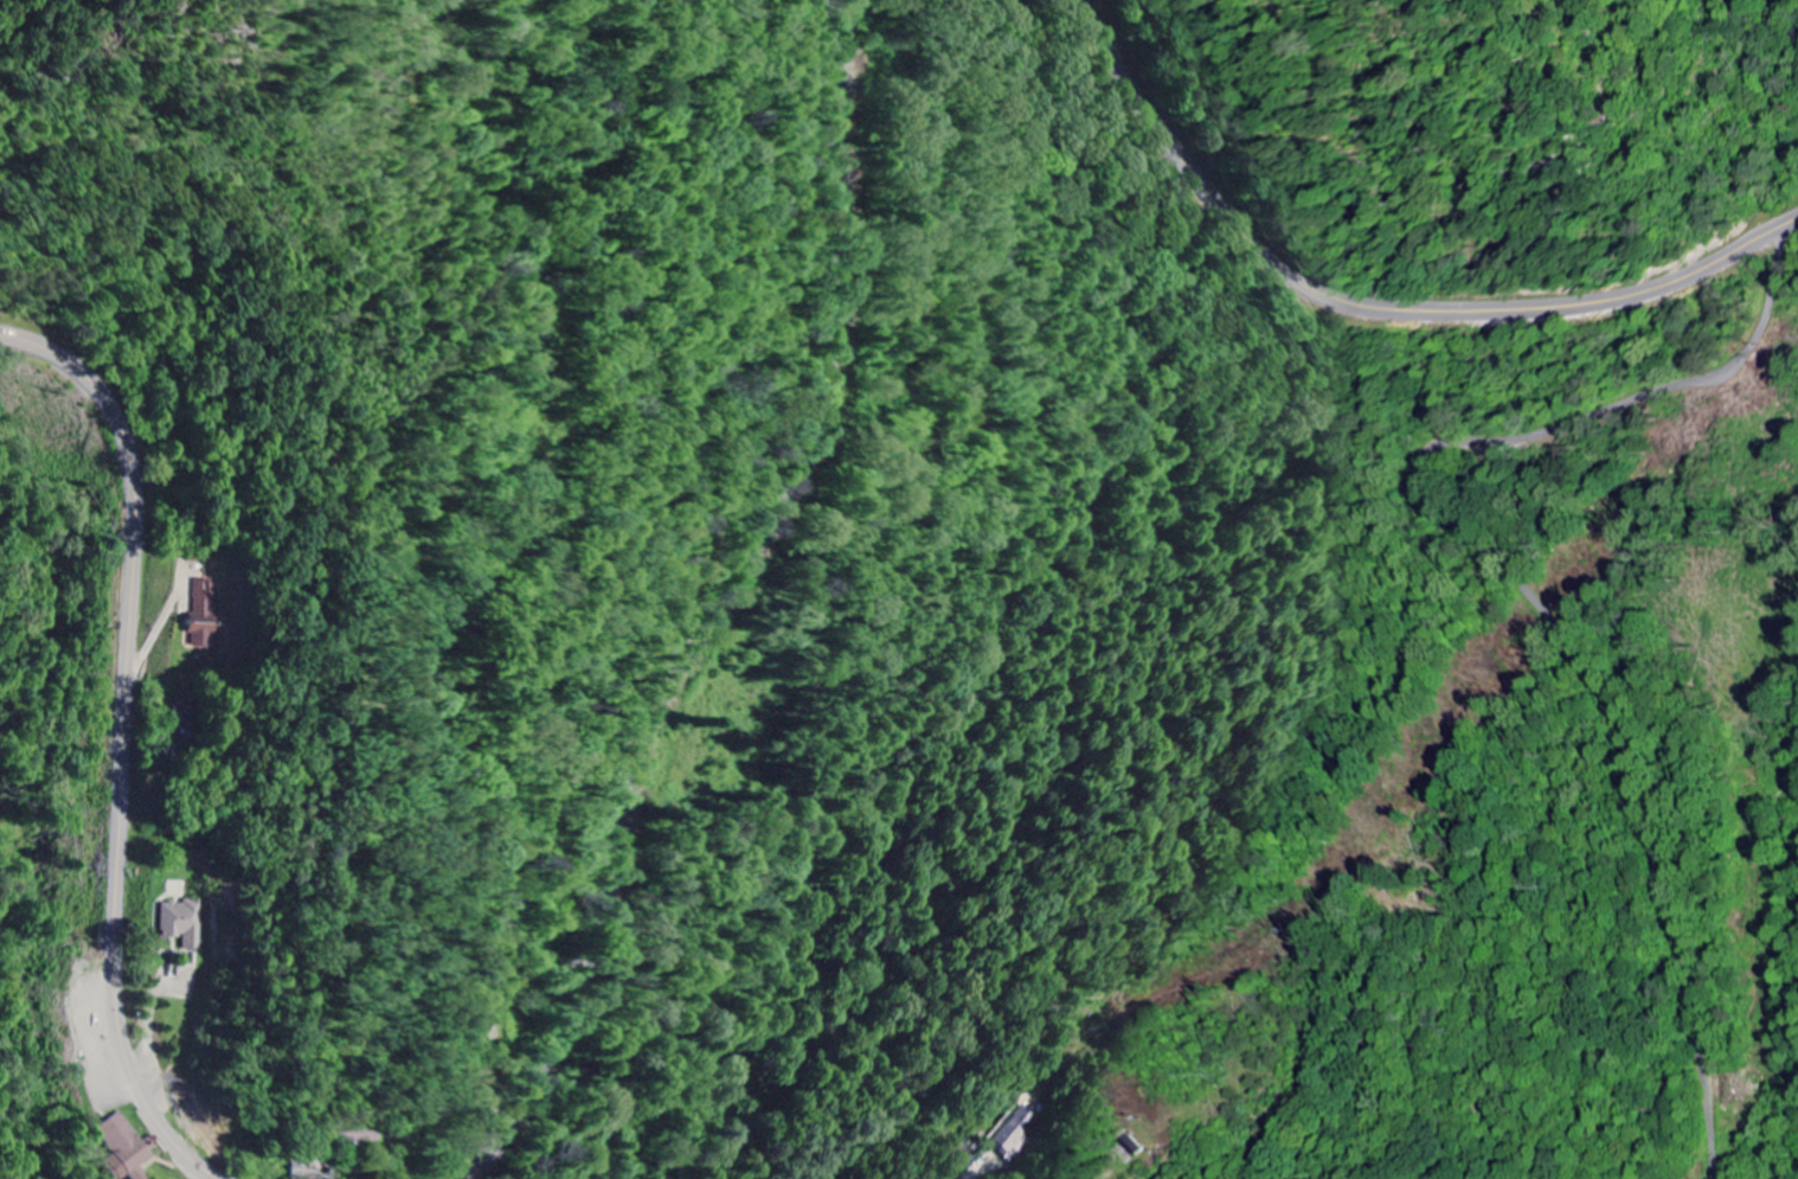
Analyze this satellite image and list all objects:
road: (1376, 305)
road: (470, 578)
road: (714, 602)
building: (204, 608)
road: (1610, 703)
road: (124, 741)
building: (185, 924)
building: (124, 1146)

